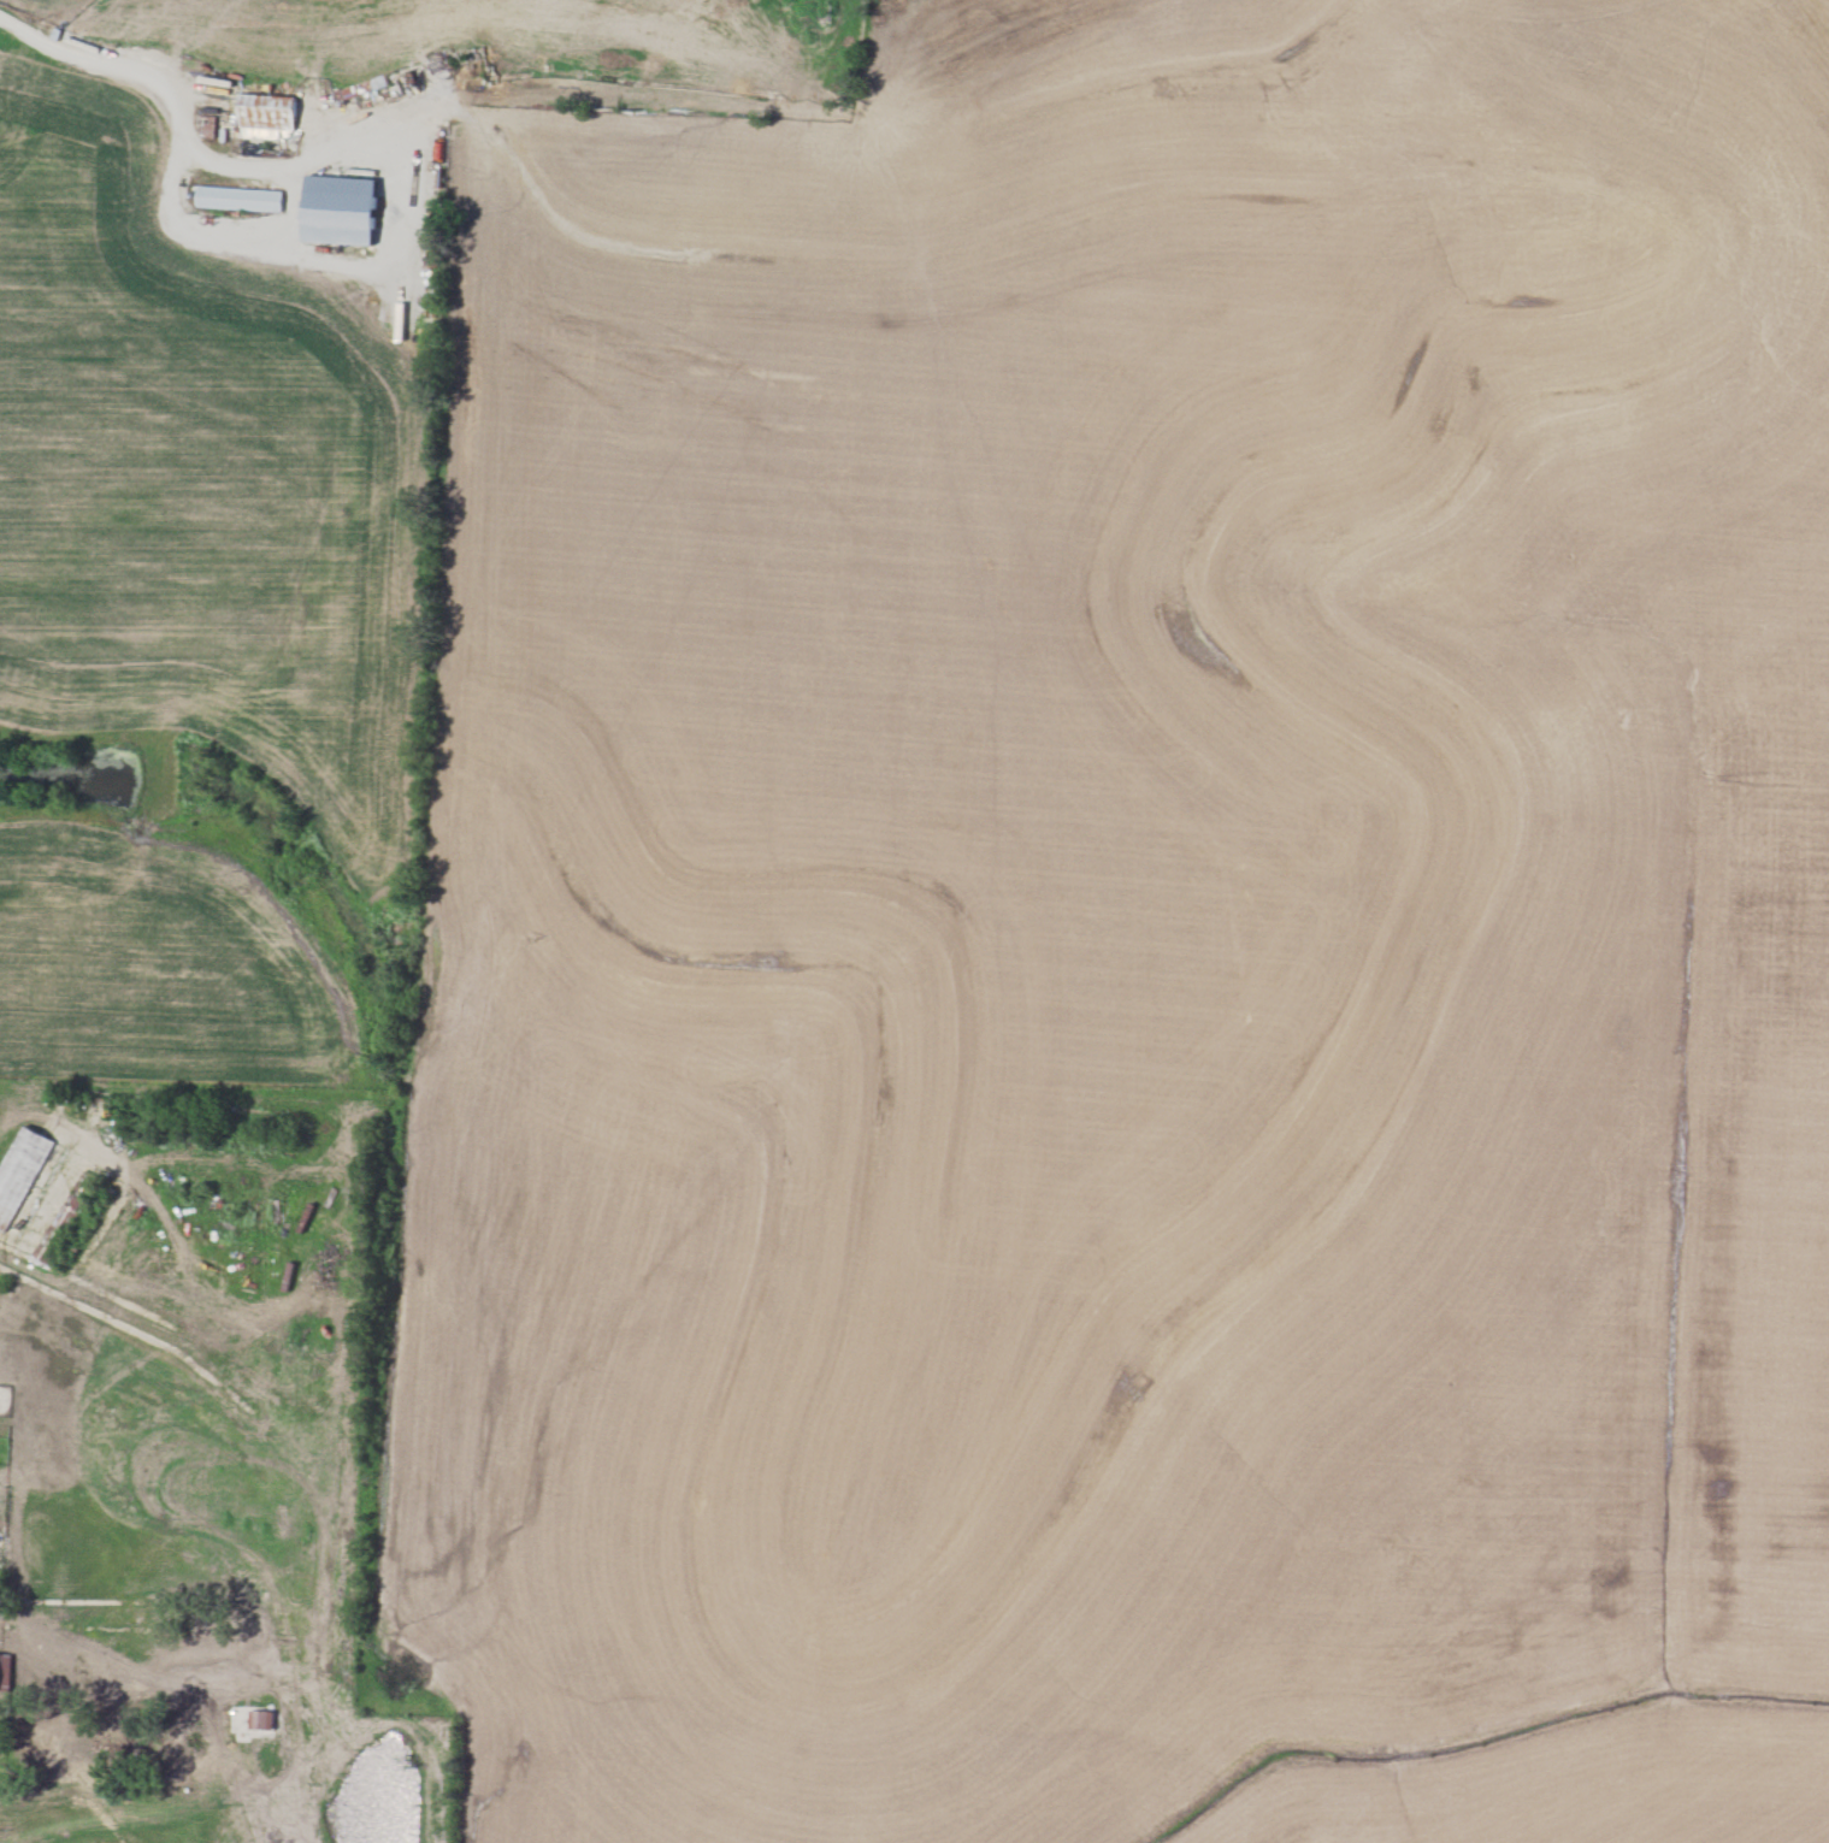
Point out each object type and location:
crop: (55, 5)
crop: (484, 33)
building: (269, 117)
road: (188, 141)
building: (240, 199)
building: (341, 209)
crop: (200, 477)
crop: (1127, 916)
crop: (153, 968)
building: (20, 1171)
building: (6, 1671)
building: (262, 1719)
crop: (1569, 1790)

